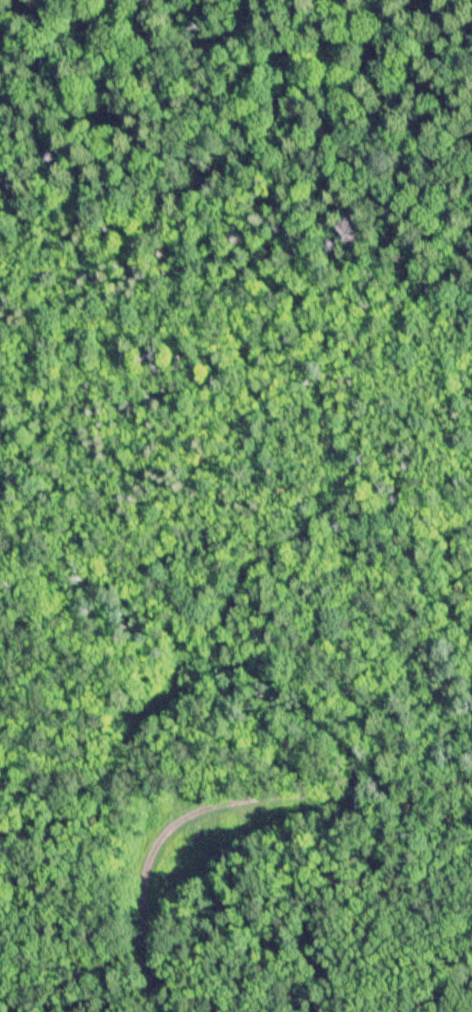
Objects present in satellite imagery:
road: (241, 219)
road: (225, 799)

